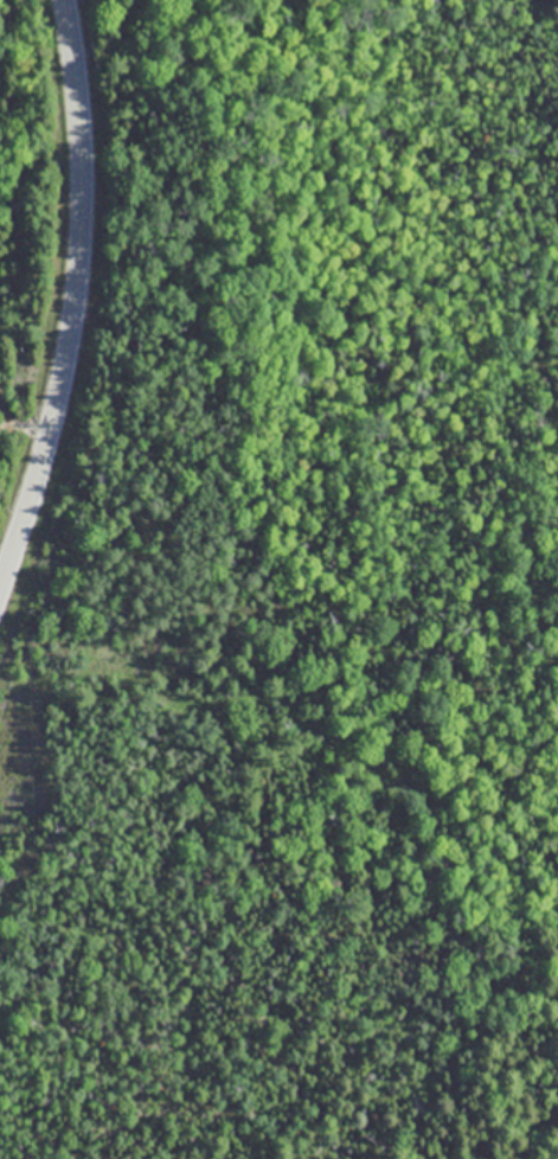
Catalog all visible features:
road: (75, 297)
road: (24, 427)

